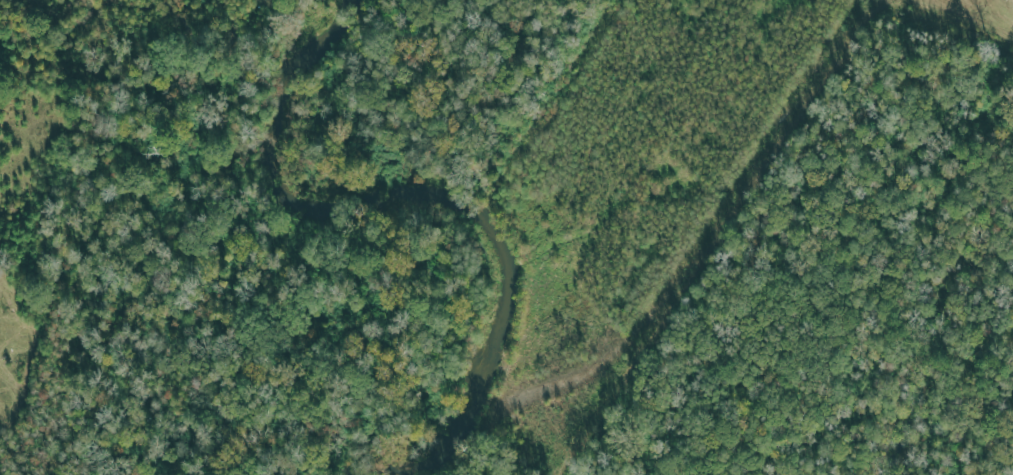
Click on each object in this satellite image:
river: (424, 197)

